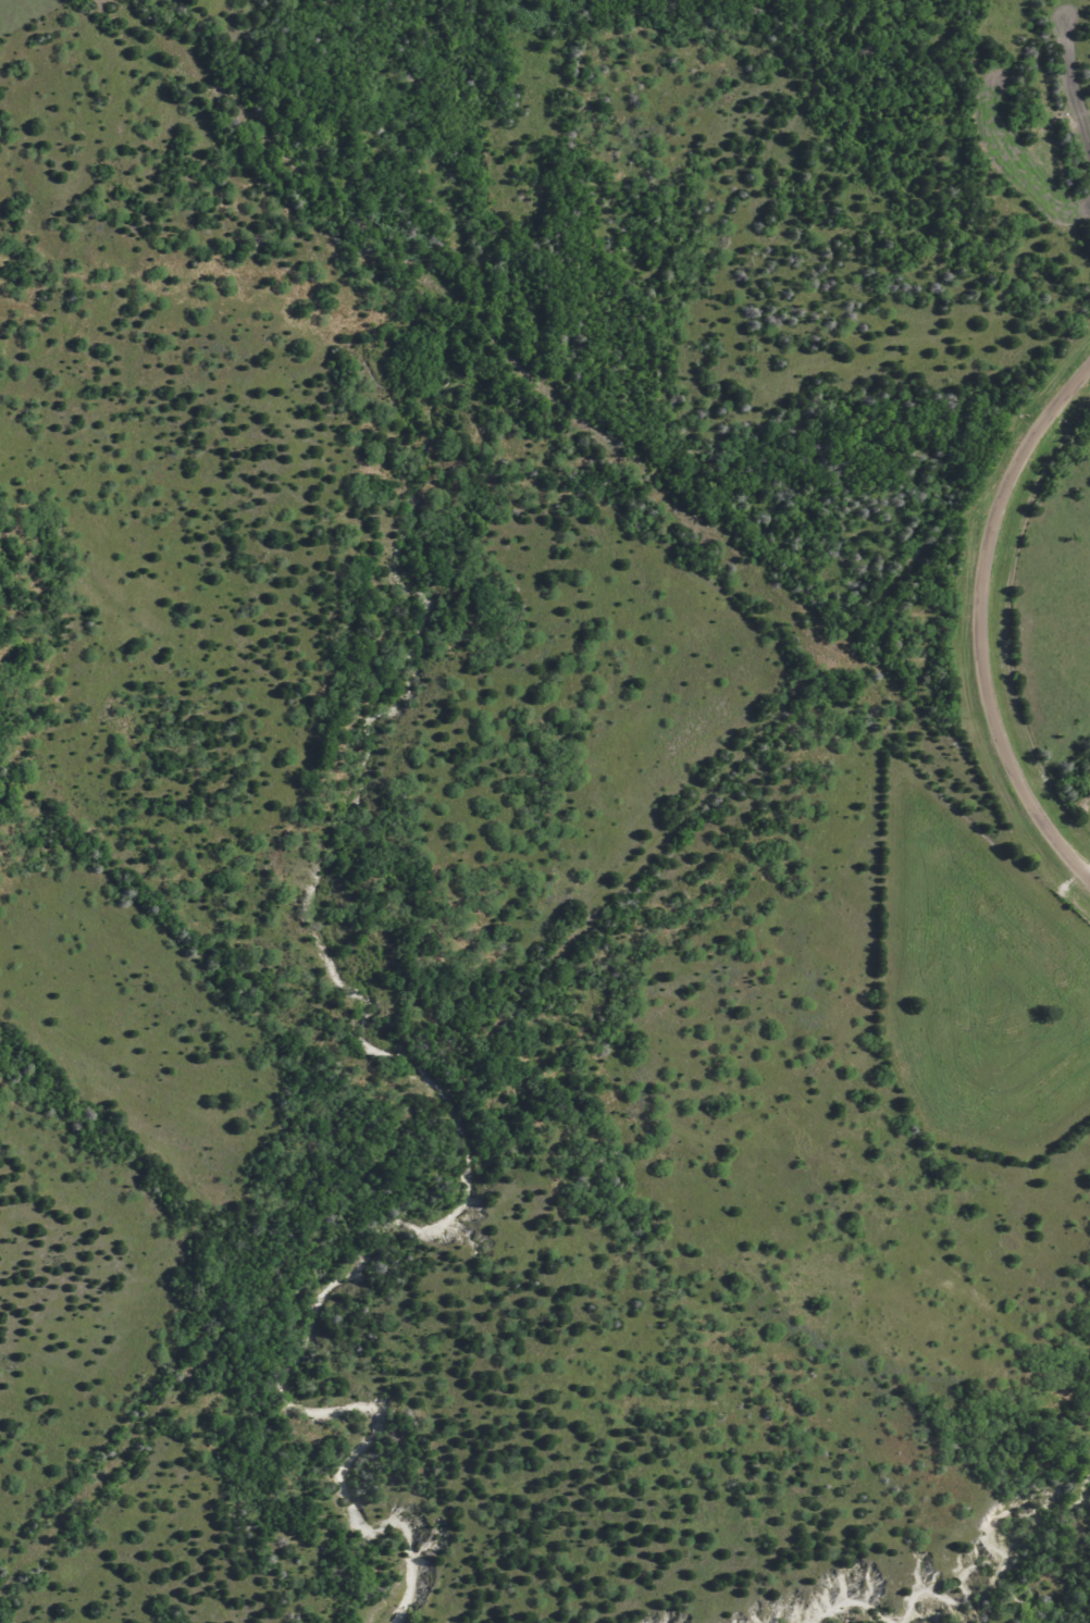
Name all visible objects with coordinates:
road: (981, 618)

